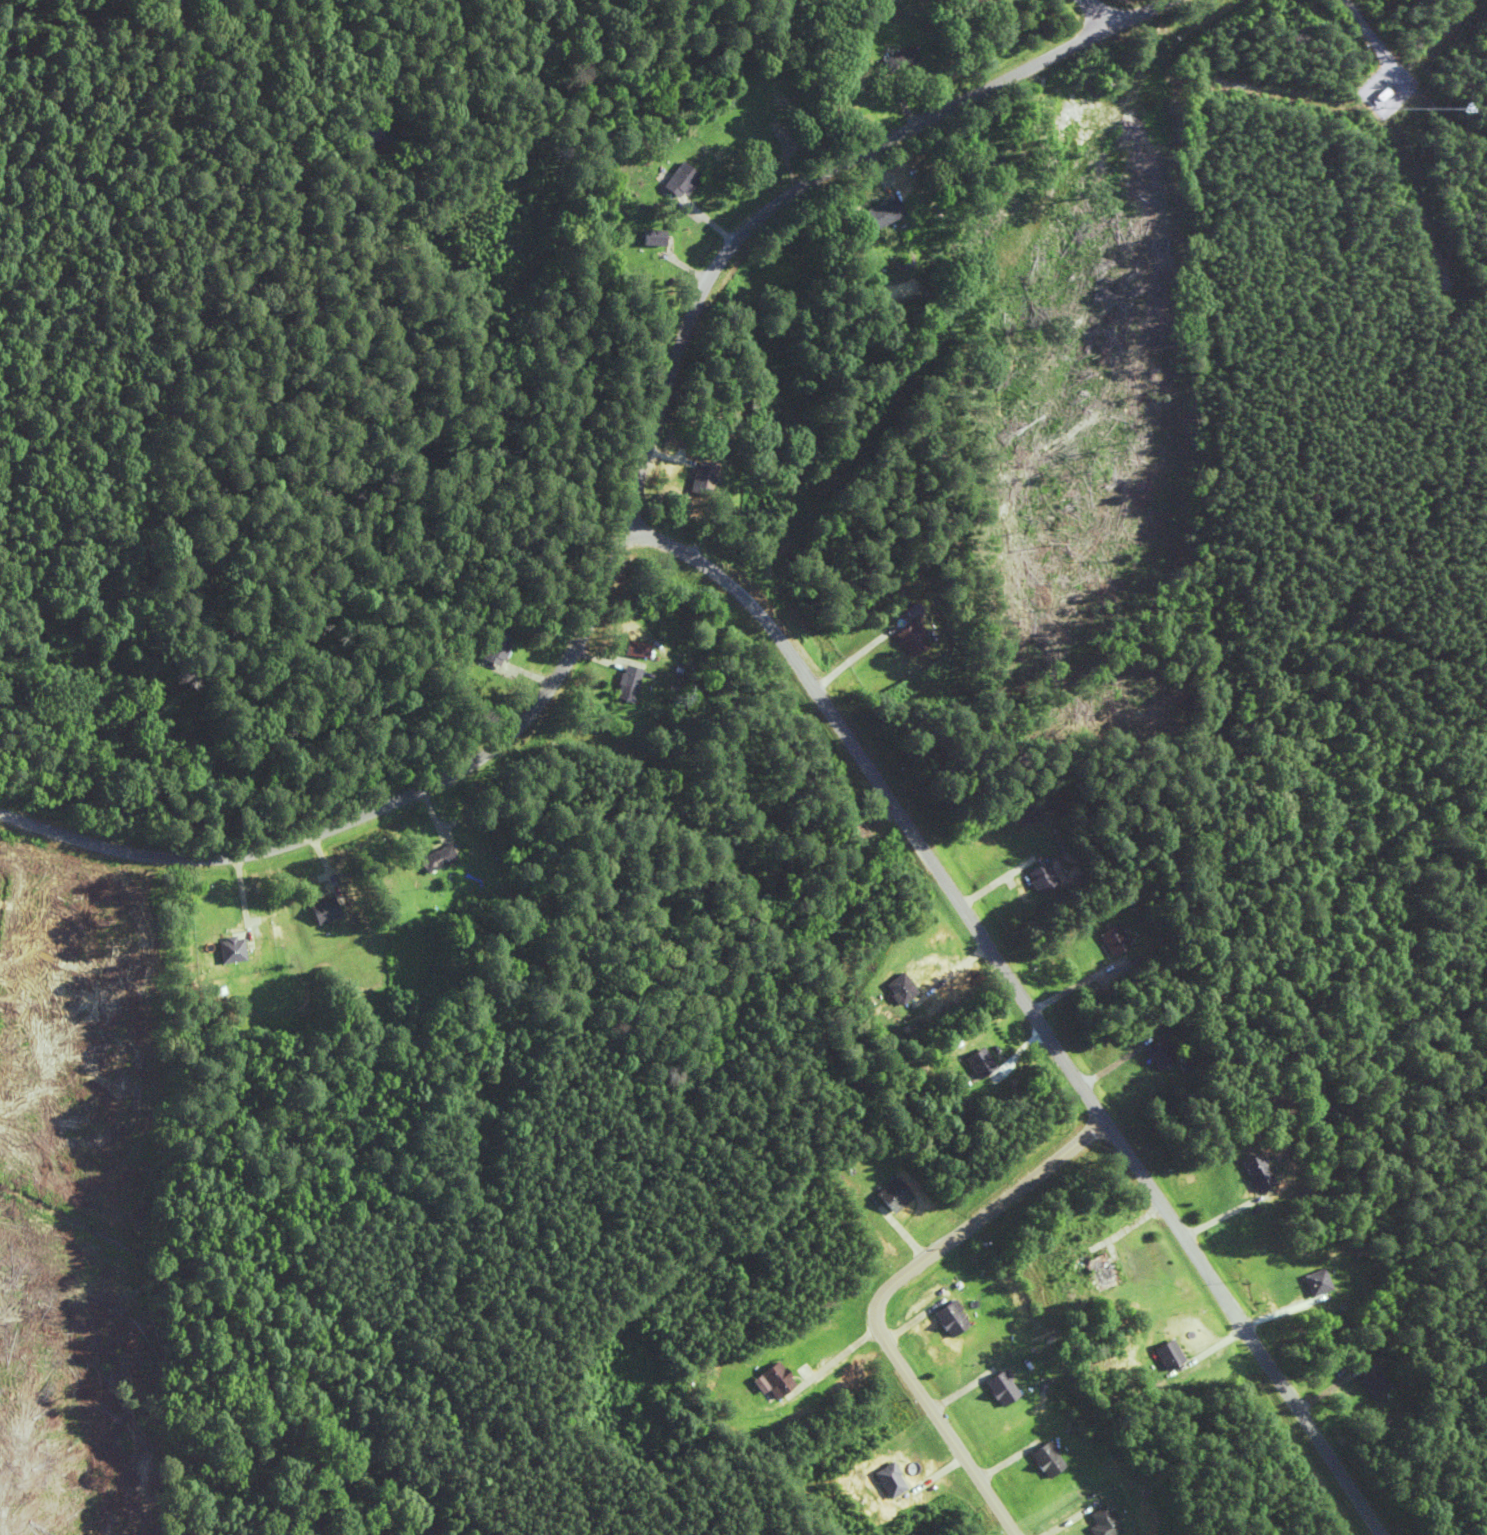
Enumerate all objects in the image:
road: (1104, 9)
building: (896, 60)
building: (1102, 78)
building: (667, 131)
building: (679, 180)
building: (879, 213)
building: (647, 238)
building: (698, 478)
road: (631, 504)
building: (909, 638)
building: (493, 649)
building: (630, 649)
building: (621, 682)
building: (429, 858)
building: (1039, 877)
building: (313, 908)
building: (1110, 939)
building: (220, 948)
building: (895, 988)
road: (1031, 992)
building: (1154, 1053)
building: (974, 1062)
building: (1245, 1171)
building: (888, 1195)
building: (1092, 1269)
building: (1307, 1282)
building: (951, 1318)
building: (1164, 1354)
building: (780, 1379)
building: (1369, 1382)
building: (1002, 1388)
building: (1046, 1459)
building: (894, 1480)
building: (1100, 1522)

